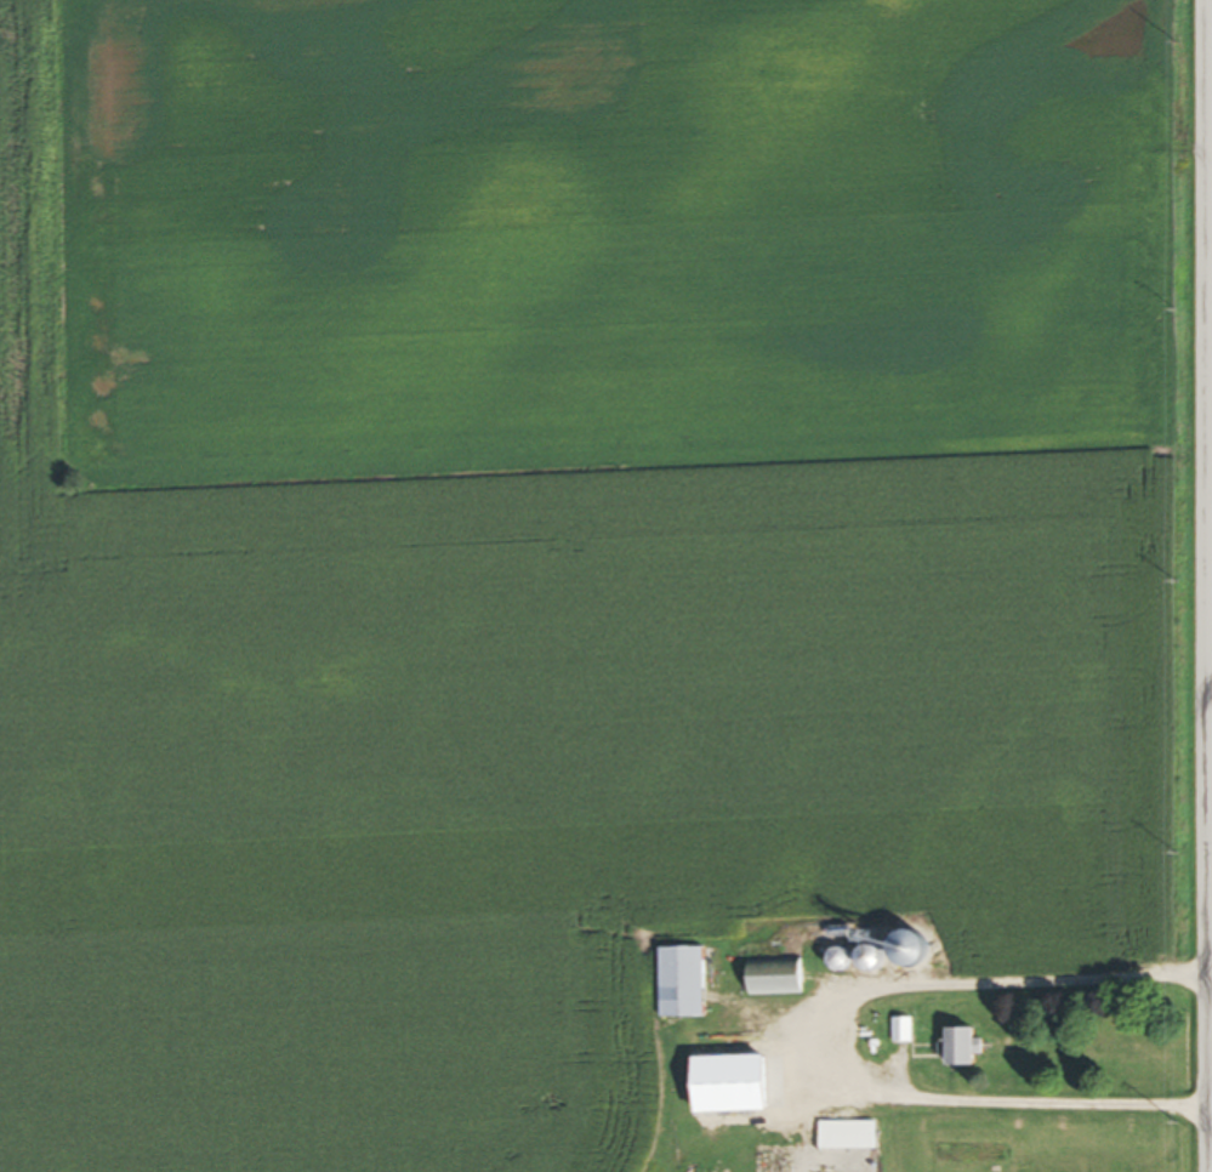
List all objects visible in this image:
road: (1199, 586)
road: (1206, 672)
building: (924, 949)
building: (783, 980)
building: (689, 984)
building: (907, 1032)
road: (841, 1043)
building: (972, 1048)
building: (854, 1138)

